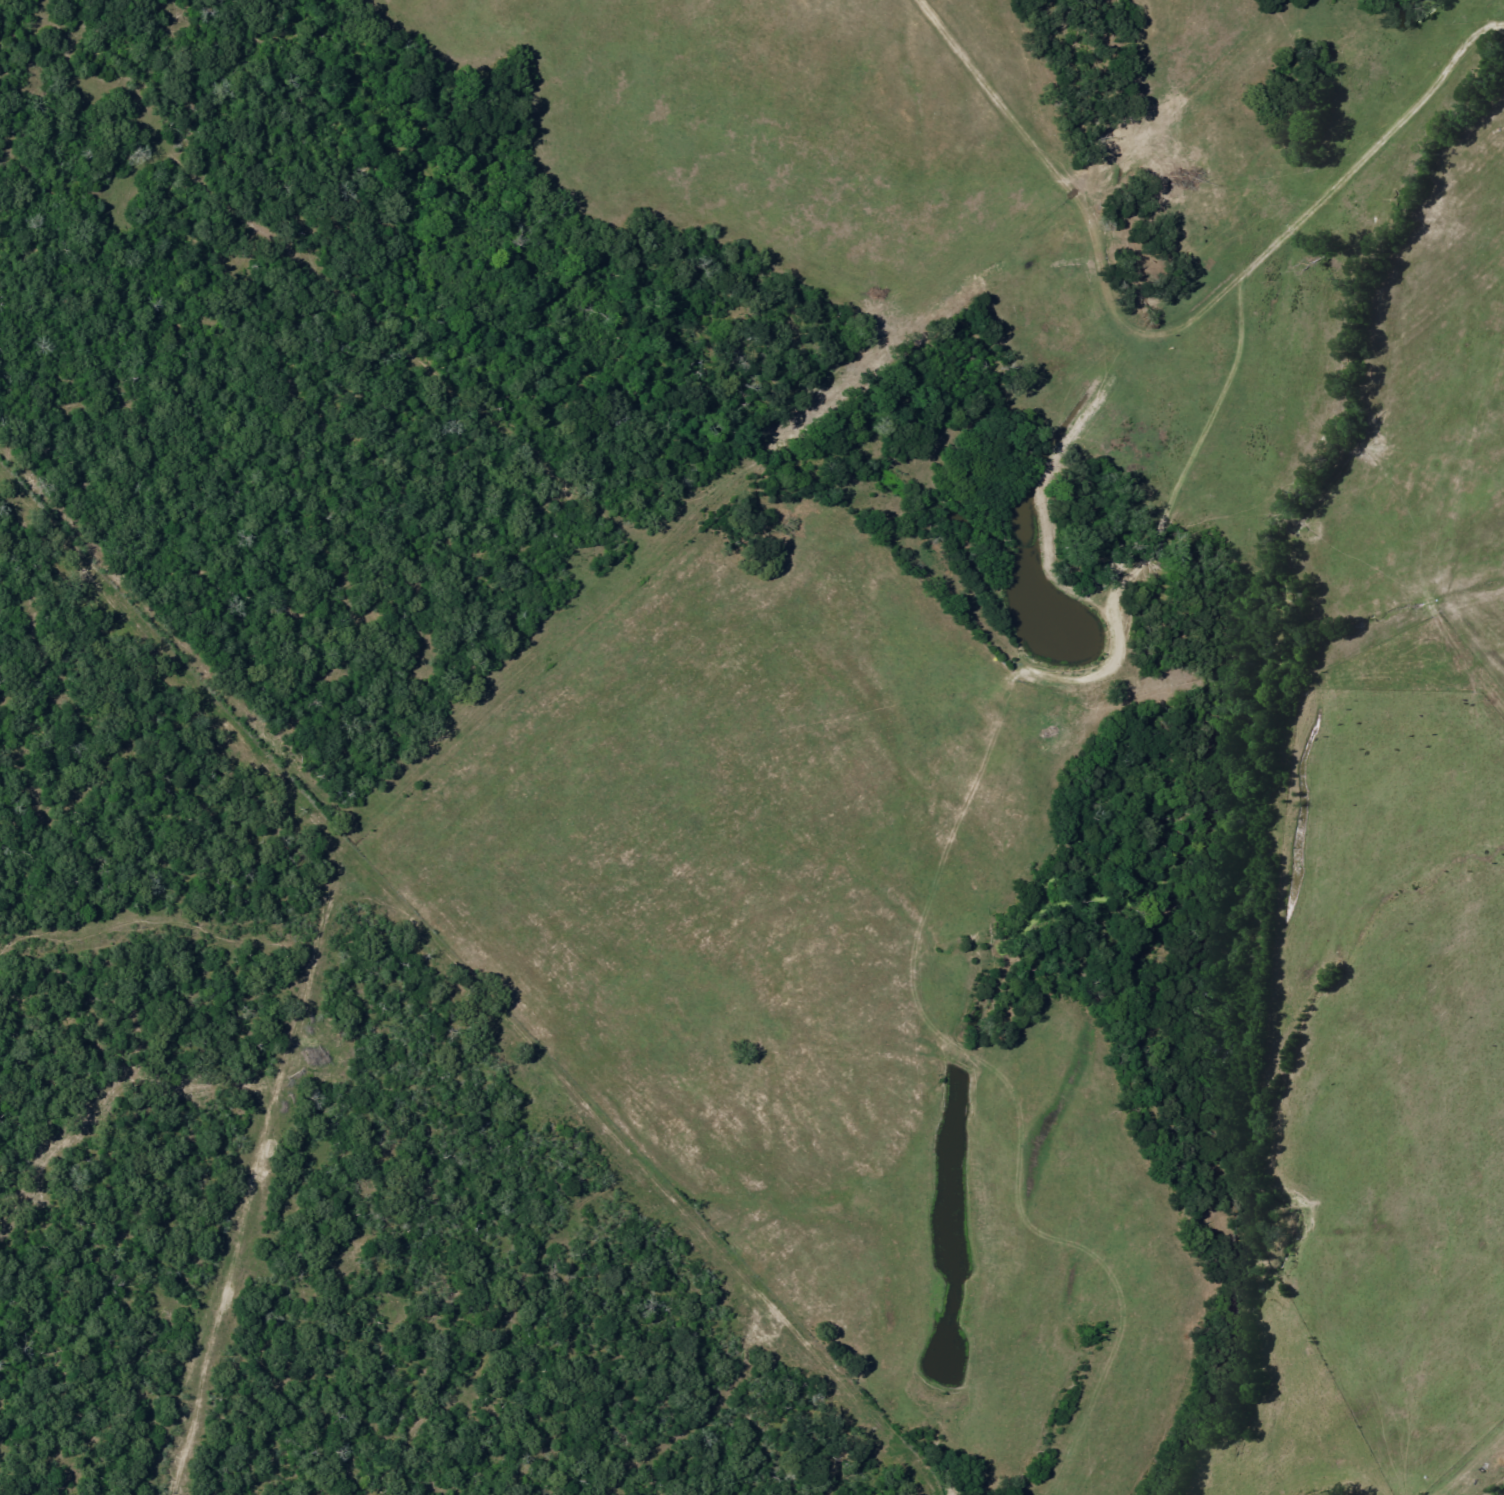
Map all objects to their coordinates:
road: (1499, 1490)

